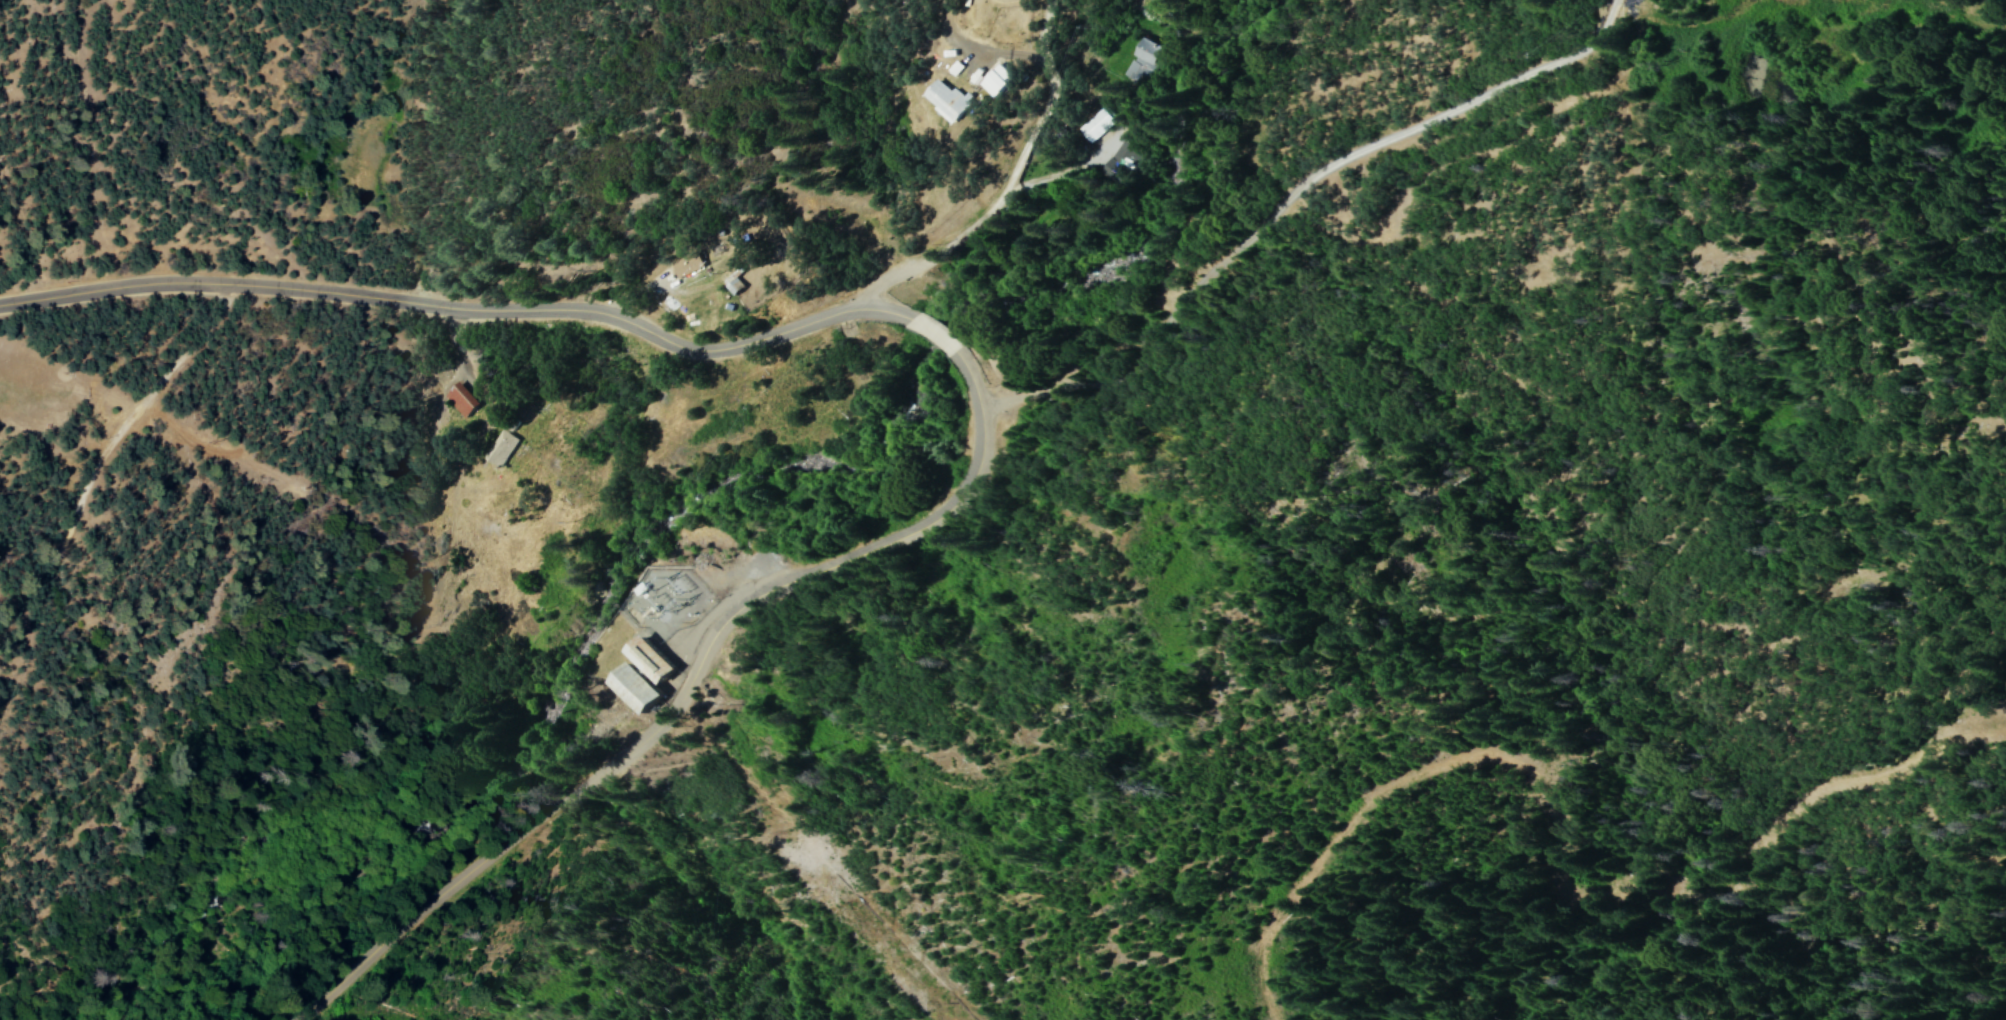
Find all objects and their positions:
building: (1142, 62)
river: (1209, 82)
building: (949, 102)
building: (1093, 126)
building: (1117, 164)
road: (1009, 184)
road: (1291, 193)
building: (681, 268)
road: (459, 307)
road: (929, 334)
building: (463, 403)
building: (502, 449)
river: (604, 548)
power substation: (664, 601)
building: (637, 678)
road: (684, 690)

